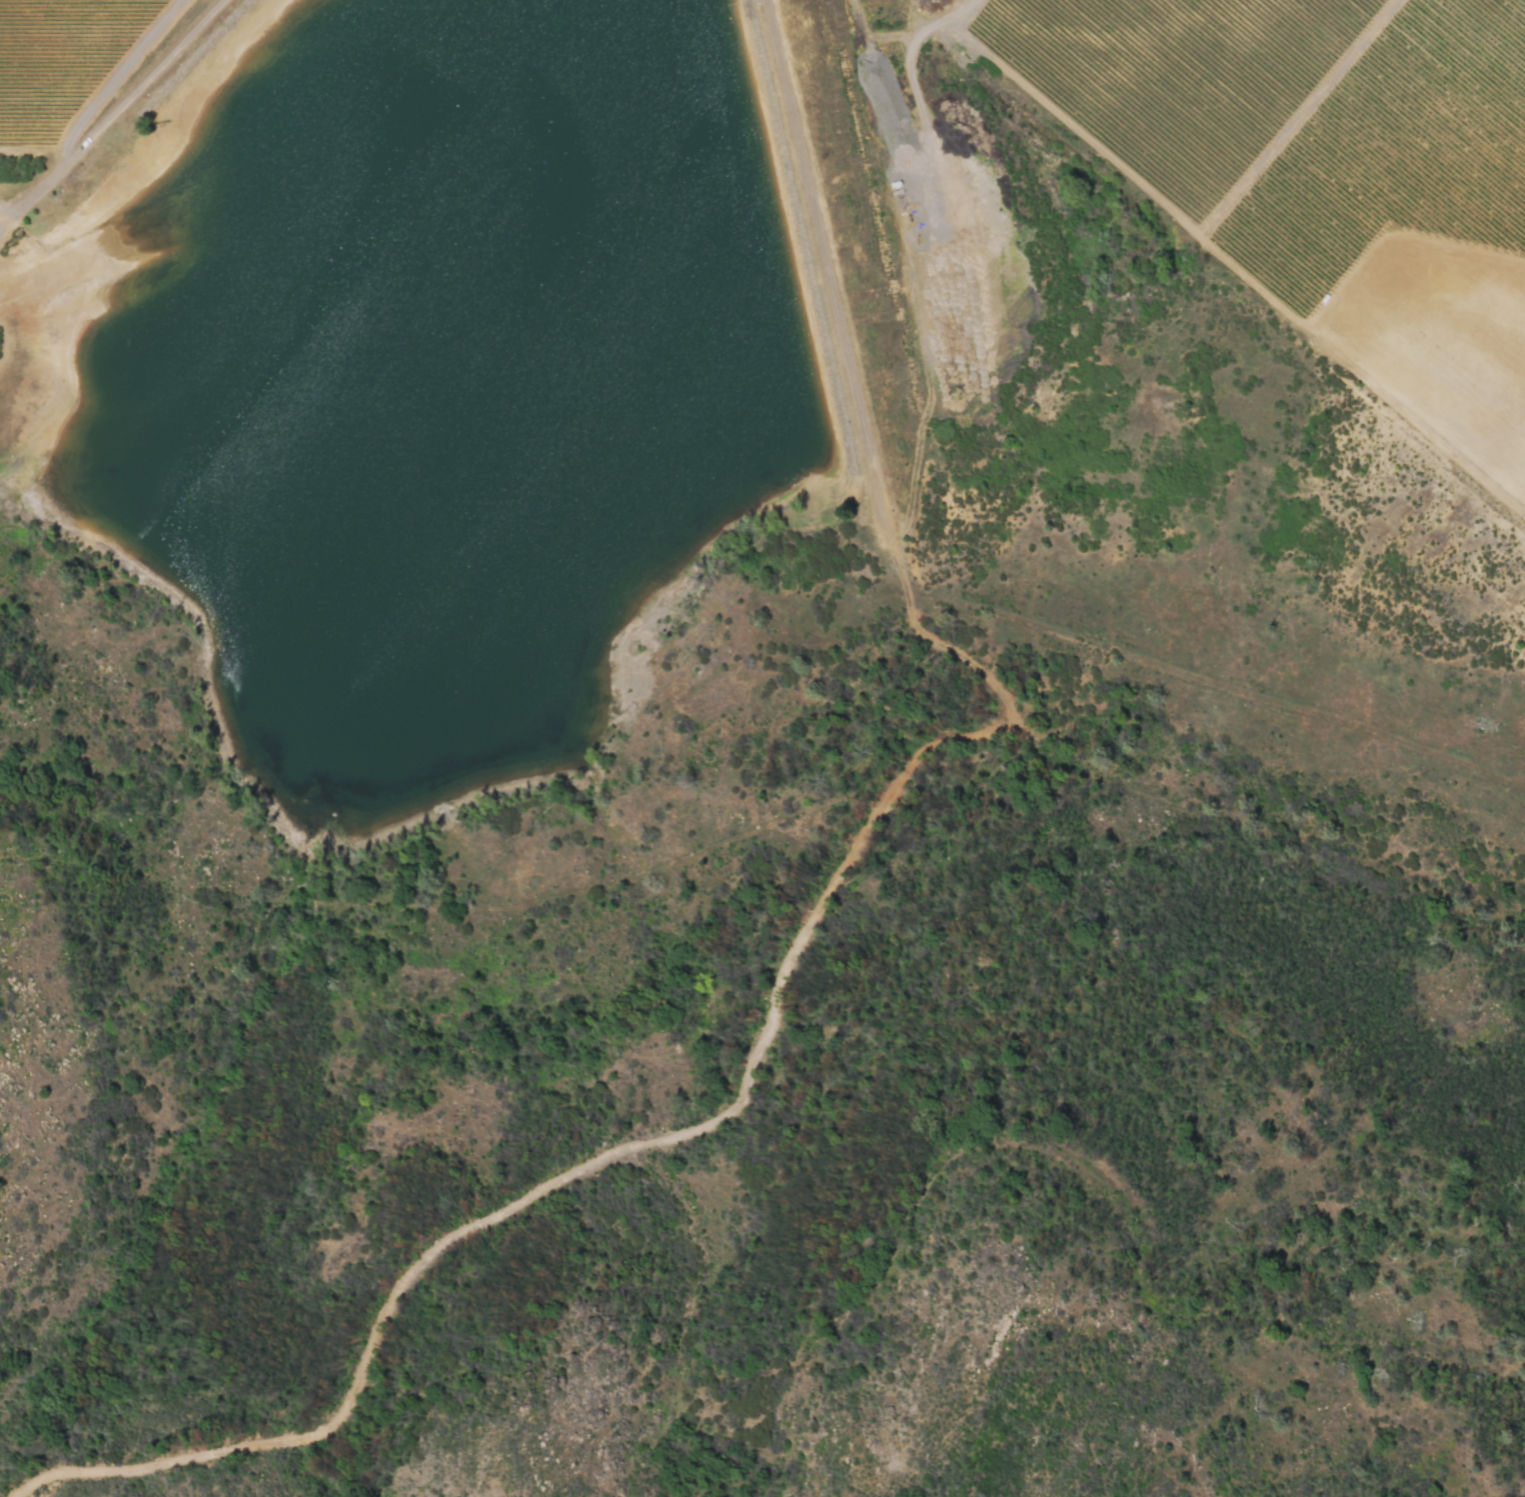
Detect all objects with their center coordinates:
dam: (142, 124)
dam: (809, 237)

